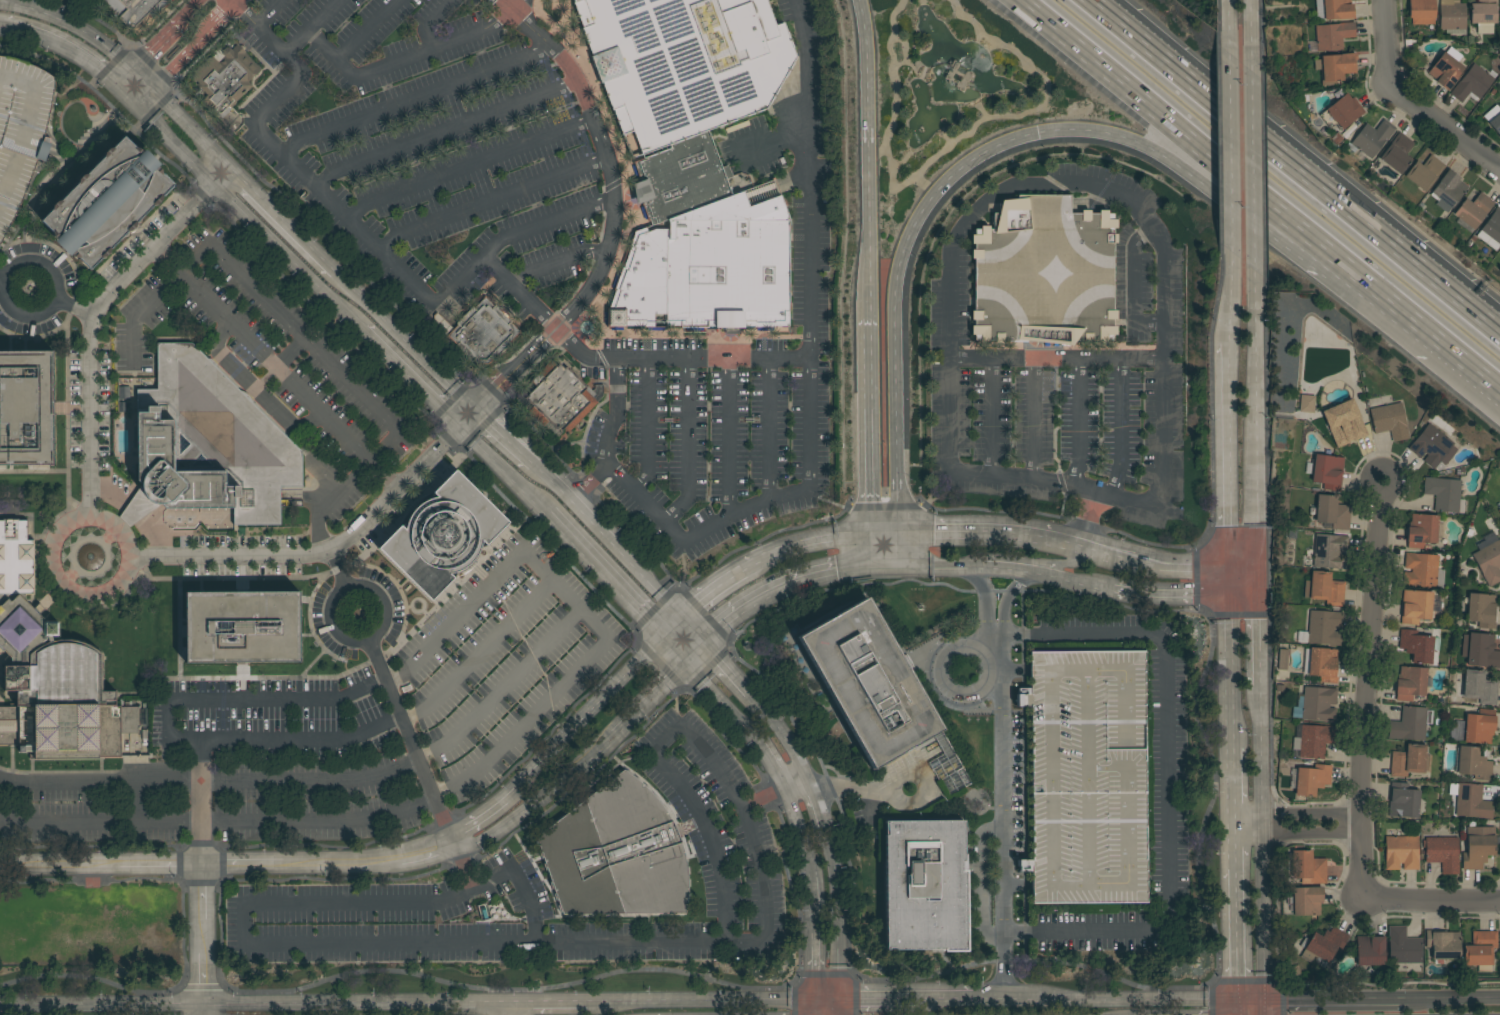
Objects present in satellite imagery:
road: (233, 1)
parking lot: (81, 3)
road: (514, 4)
road: (27, 7)
building: (1334, 9)
building: (135, 10)
road: (188, 11)
road: (268, 12)
building: (511, 12)
building: (1421, 12)
building: (1452, 15)
building: (1484, 15)
building: (1499, 15)
road: (1253, 17)
road: (1231, 18)
road: (430, 22)
road: (1, 24)
road: (310, 26)
road: (361, 29)
building: (1333, 36)
road: (95, 39)
road: (1386, 40)
road: (154, 46)
road: (76, 51)
road: (184, 52)
road: (402, 59)
building: (684, 63)
building: (1335, 67)
building: (1446, 69)
road: (123, 77)
building: (225, 79)
building: (1472, 84)
traffic signals: (151, 88)
road: (414, 98)
traffic signals: (135, 103)
building: (1345, 111)
building: (229, 118)
road: (182, 119)
building: (1494, 120)
road: (1444, 125)
road: (444, 130)
building: (21, 131)
parking garage: (21, 131)
building: (1372, 138)
road: (176, 144)
road: (777, 144)
parking lot: (440, 148)
road: (949, 148)
building: (1397, 153)
road: (878, 155)
road: (870, 158)
road: (467, 163)
road: (1253, 164)
road: (1231, 166)
road: (1292, 166)
road: (963, 170)
road: (1231, 171)
road: (61, 173)
building: (1425, 173)
road: (306, 176)
road: (810, 177)
road: (225, 178)
road: (1081, 181)
road: (928, 187)
building: (1448, 191)
road: (491, 199)
building: (107, 203)
building: (1474, 210)
road: (613, 212)
road: (283, 222)
road: (546, 223)
building: (1491, 230)
building: (702, 248)
road: (287, 256)
road: (560, 264)
building: (1044, 274)
road: (3, 281)
road: (1132, 283)
road: (522, 293)
road: (1388, 305)
road: (75, 309)
road: (27, 318)
road: (1226, 318)
road: (92, 328)
building: (480, 332)
road: (306, 341)
road: (405, 342)
road: (678, 357)
road: (1054, 360)
road: (1472, 364)
parking lot: (733, 366)
road: (276, 370)
road: (410, 377)
parking lot: (1071, 387)
building: (561, 396)
road: (262, 403)
building: (1306, 403)
building: (26, 408)
road: (615, 412)
road: (992, 417)
road: (469, 420)
road: (1032, 420)
building: (1389, 420)
road: (1079, 423)
road: (870, 425)
road: (309, 426)
road: (646, 427)
road: (1118, 427)
road: (1256, 427)
road: (768, 428)
building: (1349, 429)
road: (727, 436)
building: (207, 444)
road: (687, 444)
building: (1432, 446)
road: (1226, 453)
road: (518, 454)
building: (1326, 471)
road: (508, 474)
road: (397, 492)
building: (1443, 493)
road: (5, 506)
building: (1499, 510)
building: (1332, 512)
building: (337, 513)
road: (731, 514)
road: (585, 520)
traffic signals: (896, 530)
building: (1421, 531)
road: (1015, 532)
building: (447, 537)
road: (817, 541)
road: (884, 547)
building: (1328, 552)
road: (323, 553)
road: (222, 558)
building: (1489, 558)
fountain: (90, 559)
traffic signals: (890, 563)
road: (936, 563)
road: (1179, 563)
road: (1242, 563)
traffic signals: (1257, 563)
road: (1016, 565)
road: (337, 570)
building: (1422, 571)
road: (1082, 577)
road: (1194, 578)
road: (1228, 579)
road: (1257, 579)
road: (63, 583)
road: (788, 583)
building: (1324, 589)
road: (621, 591)
road: (710, 591)
road: (657, 593)
road: (1170, 593)
road: (1242, 595)
road: (1005, 600)
road: (384, 602)
road: (983, 602)
building: (1416, 606)
building: (1479, 609)
road: (582, 611)
road: (1201, 611)
road: (1238, 614)
traffic signals: (683, 619)
road: (330, 625)
building: (242, 627)
road: (674, 628)
building: (1323, 628)
road: (1257, 636)
traffic signals: (666, 638)
traffic signals: (705, 643)
building: (1418, 646)
building: (1479, 651)
road: (478, 652)
road: (375, 660)
building: (1283, 660)
traffic signals: (688, 662)
building: (1321, 664)
road: (727, 668)
road: (1230, 671)
building: (51, 673)
building: (868, 683)
building: (1410, 683)
building: (1477, 687)
road: (502, 688)
road: (1366, 689)
road: (658, 692)
road: (721, 696)
building: (1315, 705)
road: (586, 719)
building: (1409, 724)
road: (170, 728)
building: (1475, 728)
road: (783, 736)
building: (1313, 740)
road: (770, 759)
building: (1408, 760)
road: (418, 761)
building: (1473, 764)
building: (1087, 776)
parking garage: (1087, 776)
building: (1312, 779)
road: (287, 781)
road: (1166, 783)
road: (798, 786)
road: (851, 787)
road: (1233, 790)
road: (96, 792)
building: (1403, 801)
road: (535, 802)
building: (1472, 802)
road: (906, 804)
road: (818, 810)
road: (1298, 814)
road: (315, 816)
road: (98, 819)
road: (476, 819)
road: (999, 819)
road: (197, 822)
road: (1298, 831)
road: (706, 833)
road: (1264, 840)
road: (809, 849)
building: (1479, 849)
building: (1401, 851)
road: (424, 852)
building: (616, 854)
building: (1443, 854)
road: (339, 863)
road: (240, 864)
road: (2, 865)
road: (158, 865)
road: (60, 866)
road: (461, 867)
building: (1308, 867)
building: (924, 886)
building: (1304, 900)
road: (1430, 901)
road: (1237, 918)
road: (840, 920)
road: (199, 935)
road: (287, 943)
building: (1443, 945)
building: (1322, 946)
building: (1403, 946)
building: (1480, 948)
building: (1370, 953)
building: (528, 958)
road: (819, 961)
building: (1293, 972)
road: (1245, 979)
road: (1453, 999)
road: (1105, 1002)
road: (1335, 1002)
road: (714, 1003)
road: (1252, 1003)
road: (557, 1004)
road: (898, 1004)
road: (356, 1005)
road: (99, 1007)
road: (1244, 1009)
road: (1259, 1009)
road: (199, 1010)
road: (512, 1010)
road: (827, 1010)

